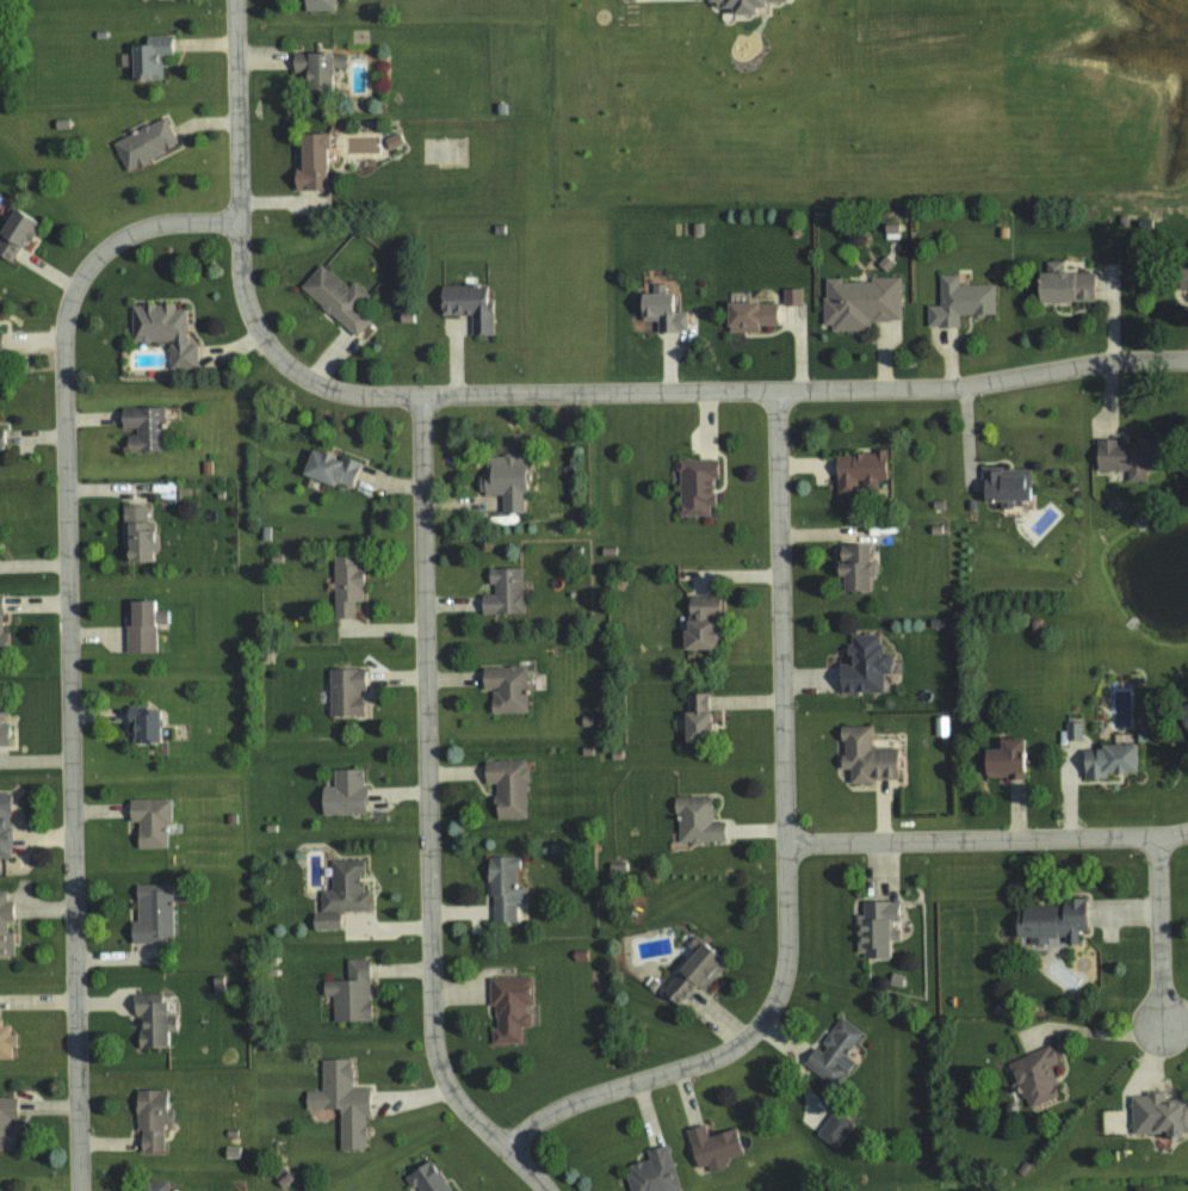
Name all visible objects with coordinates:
building: (317, 5)
building: (740, 5)
building: (147, 56)
building: (316, 67)
road: (236, 111)
building: (392, 141)
building: (143, 143)
building: (309, 161)
building: (13, 233)
building: (1181, 278)
building: (1062, 284)
building: (791, 295)
building: (335, 298)
building: (959, 301)
building: (860, 302)
building: (466, 306)
building: (658, 311)
building: (748, 315)
building: (162, 331)
building: (0, 358)
road: (656, 390)
building: (141, 427)
building: (1, 437)
building: (1124, 456)
building: (327, 468)
building: (858, 470)
building: (503, 481)
building: (1002, 485)
building: (694, 486)
building: (135, 533)
building: (853, 567)
building: (346, 584)
building: (502, 591)
building: (698, 622)
building: (140, 624)
building: (1, 628)
road: (68, 644)
building: (862, 665)
building: (505, 689)
building: (345, 691)
building: (695, 717)
building: (1183, 717)
building: (142, 724)
building: (940, 726)
building: (1072, 730)
building: (4, 733)
building: (865, 755)
building: (1003, 759)
building: (1108, 760)
building: (506, 786)
building: (342, 794)
road: (428, 814)
building: (697, 820)
building: (148, 821)
building: (4, 825)
road: (988, 839)
road: (787, 853)
building: (345, 888)
building: (502, 889)
building: (150, 914)
building: (324, 920)
building: (1050, 922)
building: (5, 926)
building: (875, 927)
road: (1161, 931)
building: (691, 974)
building: (349, 992)
building: (144, 996)
building: (509, 1007)
building: (151, 1024)
road: (1099, 1032)
building: (5, 1042)
building: (833, 1051)
building: (1034, 1076)
building: (341, 1101)
building: (1158, 1115)
building: (149, 1121)
building: (6, 1122)
building: (833, 1129)
building: (711, 1147)
building: (652, 1172)
building: (426, 1177)
building: (151, 1185)

